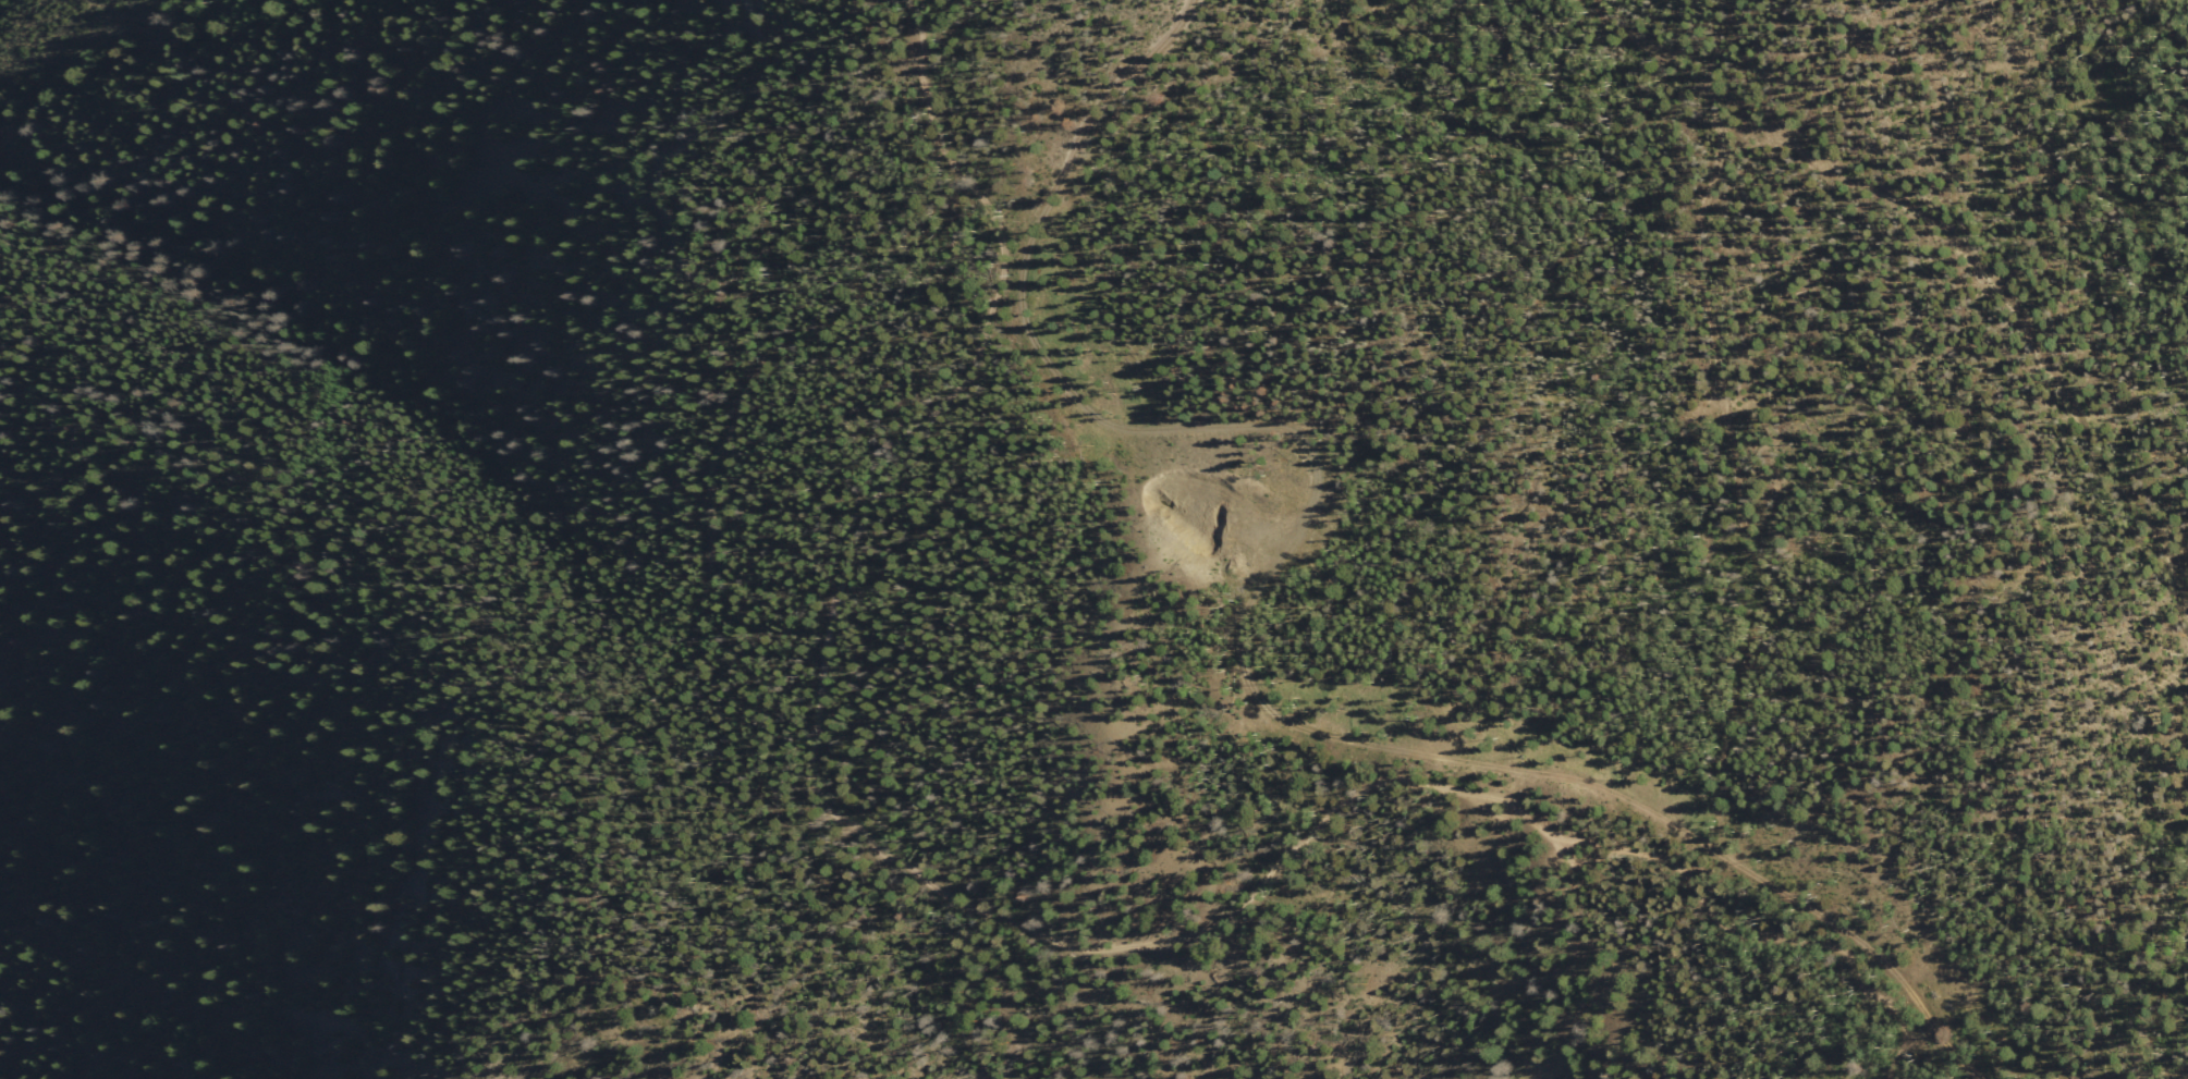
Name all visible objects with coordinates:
road: (1854, 177)
road: (1246, 633)
road: (999, 915)

